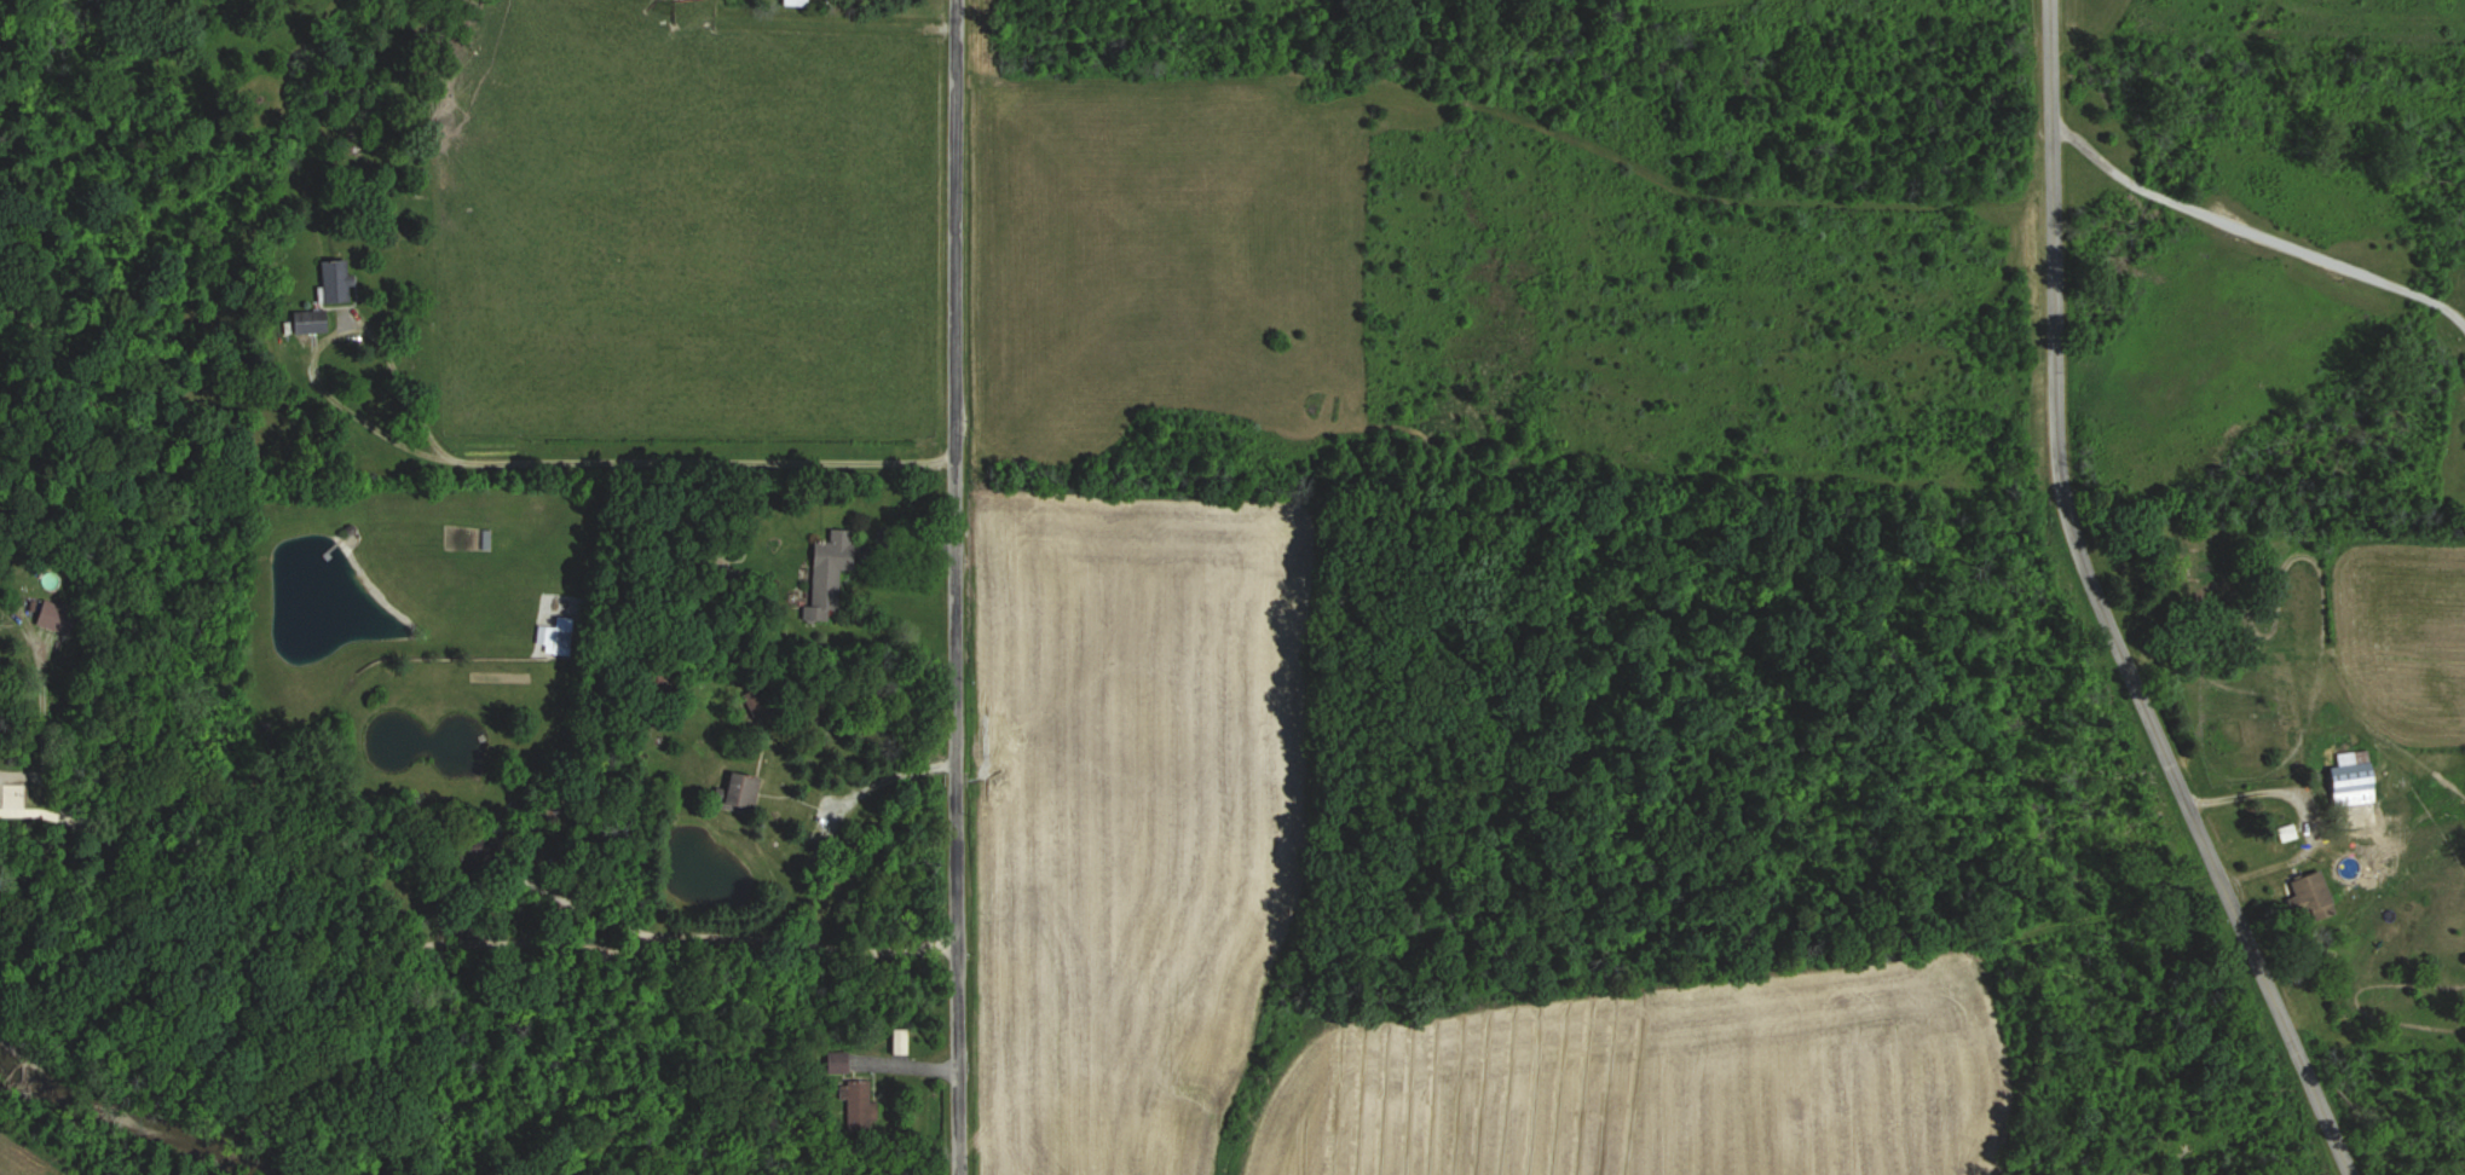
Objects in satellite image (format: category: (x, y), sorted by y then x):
building: (802, 2)
road: (2248, 236)
building: (340, 280)
building: (314, 320)
road: (368, 335)
road: (695, 462)
building: (837, 563)
road: (953, 586)
road: (2102, 607)
road: (900, 777)
building: (2348, 777)
building: (749, 787)
road: (2267, 791)
road: (40, 816)
building: (2305, 890)
road: (571, 898)
road: (359, 931)
building: (900, 1038)
building: (839, 1060)
building: (862, 1102)

